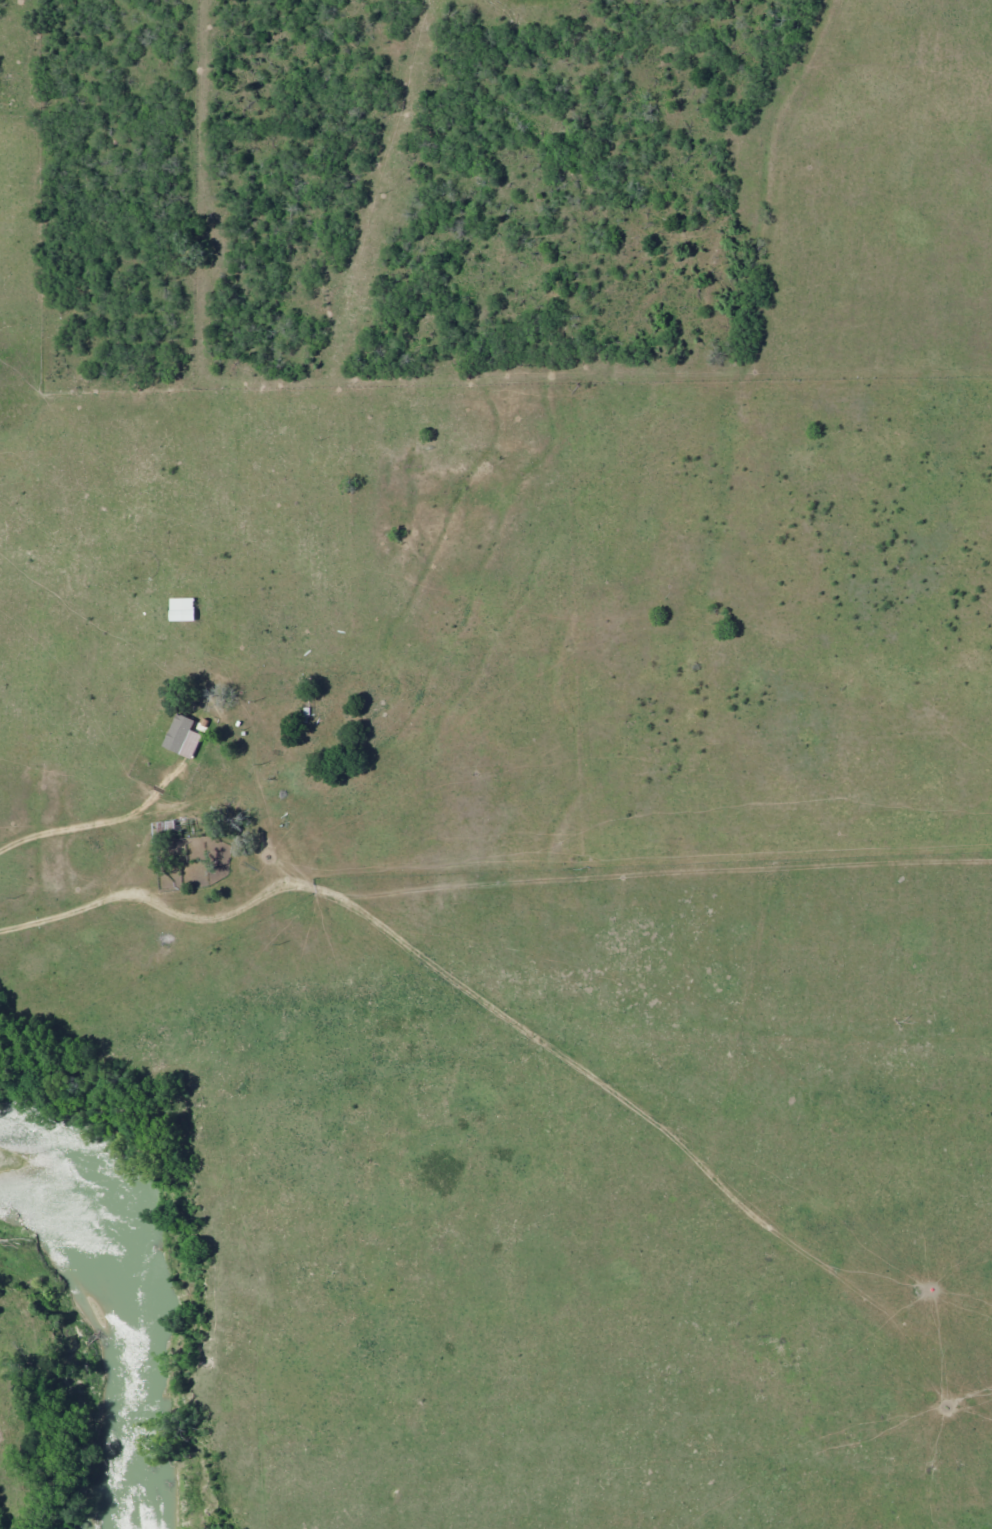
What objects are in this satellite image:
building: (181, 737)
road: (53, 916)
road: (596, 1059)
road: (197, 1212)
river: (126, 1304)

